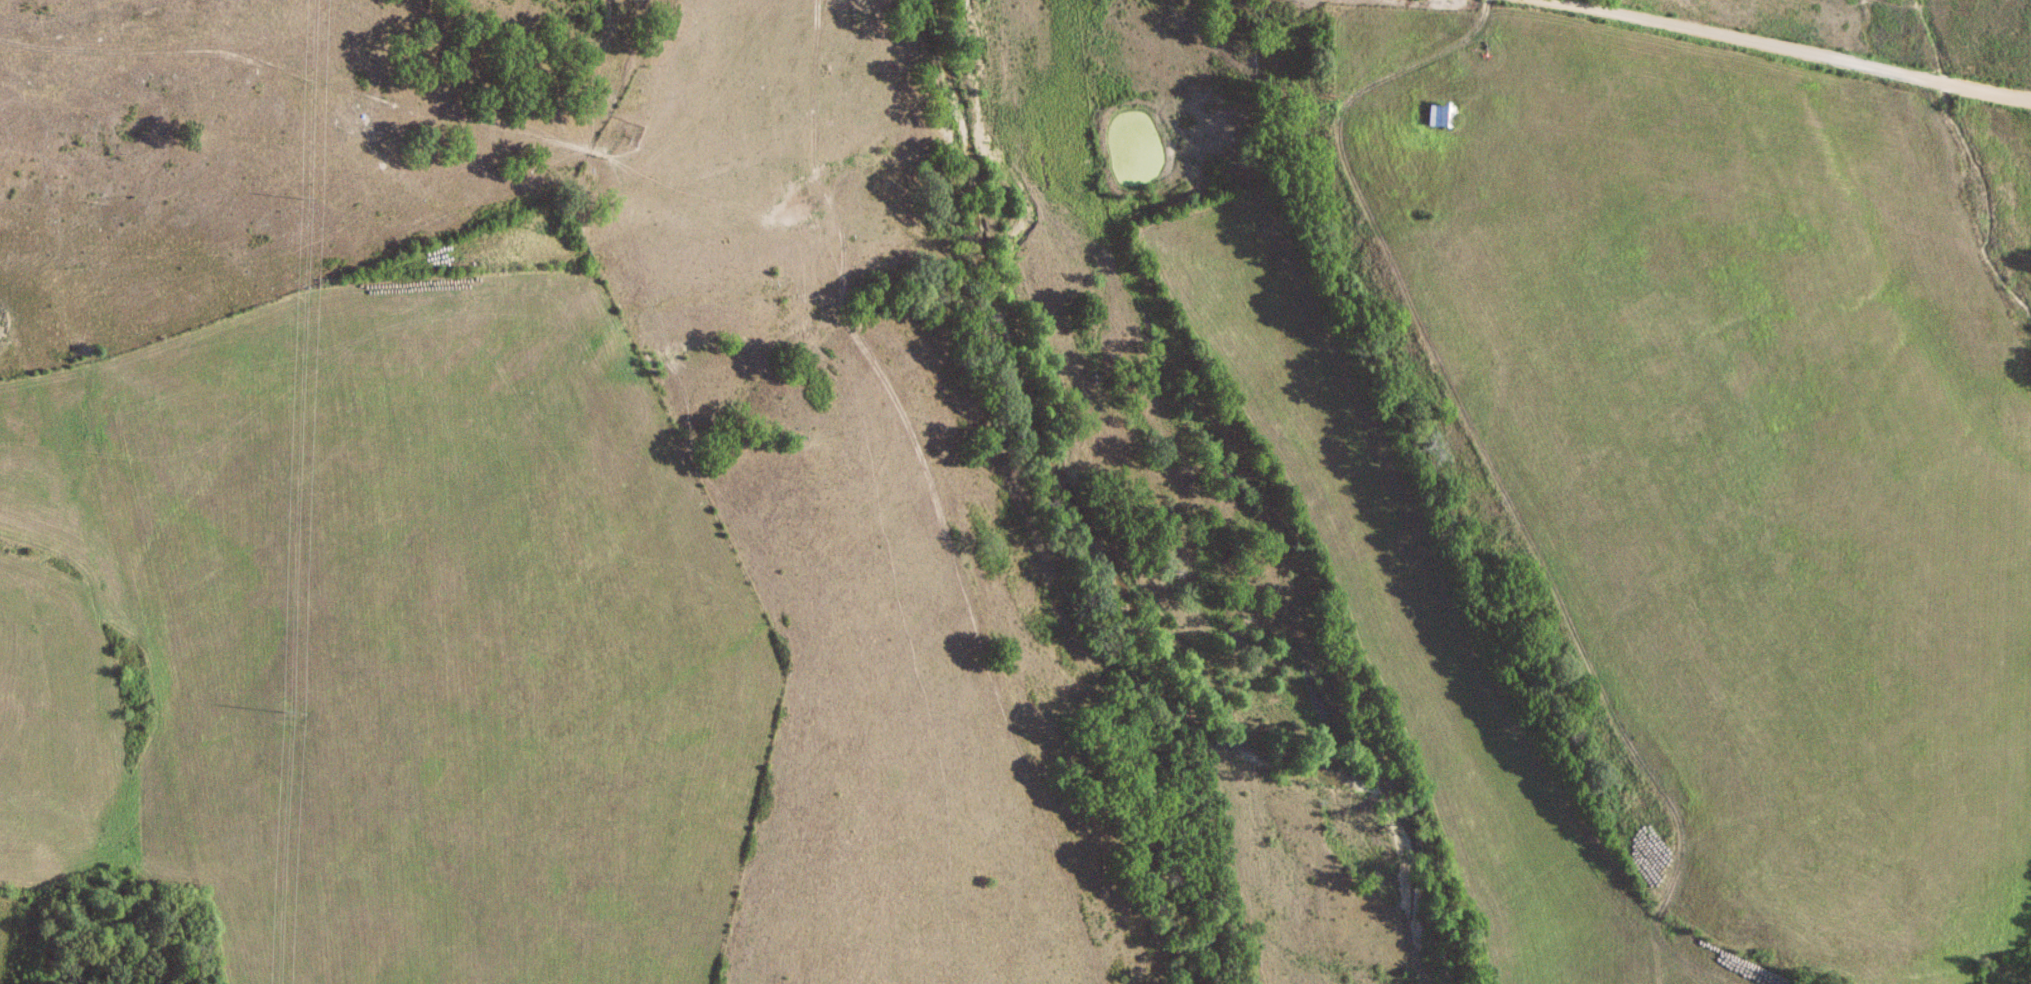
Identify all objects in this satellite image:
road: (1785, 46)
building: (1443, 117)

